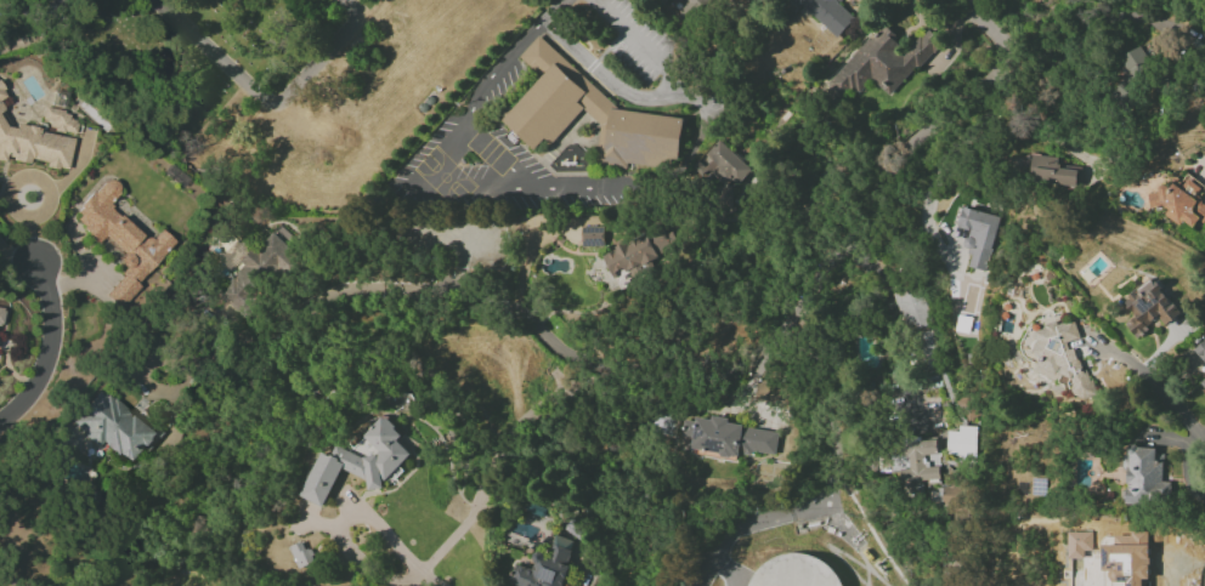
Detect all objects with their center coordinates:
building: (660, 2)
building: (694, 4)
road: (554, 11)
building: (827, 13)
road: (984, 25)
road: (35, 27)
building: (879, 64)
park: (282, 78)
building: (1131, 79)
building: (1, 91)
road: (652, 98)
road: (268, 99)
building: (590, 118)
building: (33, 146)
park: (490, 152)
road: (1201, 164)
building: (725, 170)
building: (1052, 171)
road: (432, 178)
park: (445, 178)
road: (551, 186)
building: (1179, 203)
building: (978, 235)
building: (592, 237)
road: (849, 239)
building: (120, 240)
building: (233, 252)
building: (638, 255)
building: (258, 268)
building: (911, 308)
building: (1148, 308)
building: (1, 313)
building: (926, 351)
building: (1200, 351)
road: (47, 352)
building: (1060, 358)
building: (1203, 382)
road: (1154, 387)
road: (810, 411)
building: (114, 426)
building: (728, 437)
building: (961, 442)
road: (1199, 443)
building: (920, 461)
building: (358, 462)
building: (1144, 477)
road: (760, 523)
road: (344, 529)
road: (1198, 542)
building: (300, 554)
building: (1126, 561)
road: (1193, 564)
building: (545, 565)
road: (726, 569)
storage tank: (793, 571)
building: (794, 571)
road: (428, 580)

